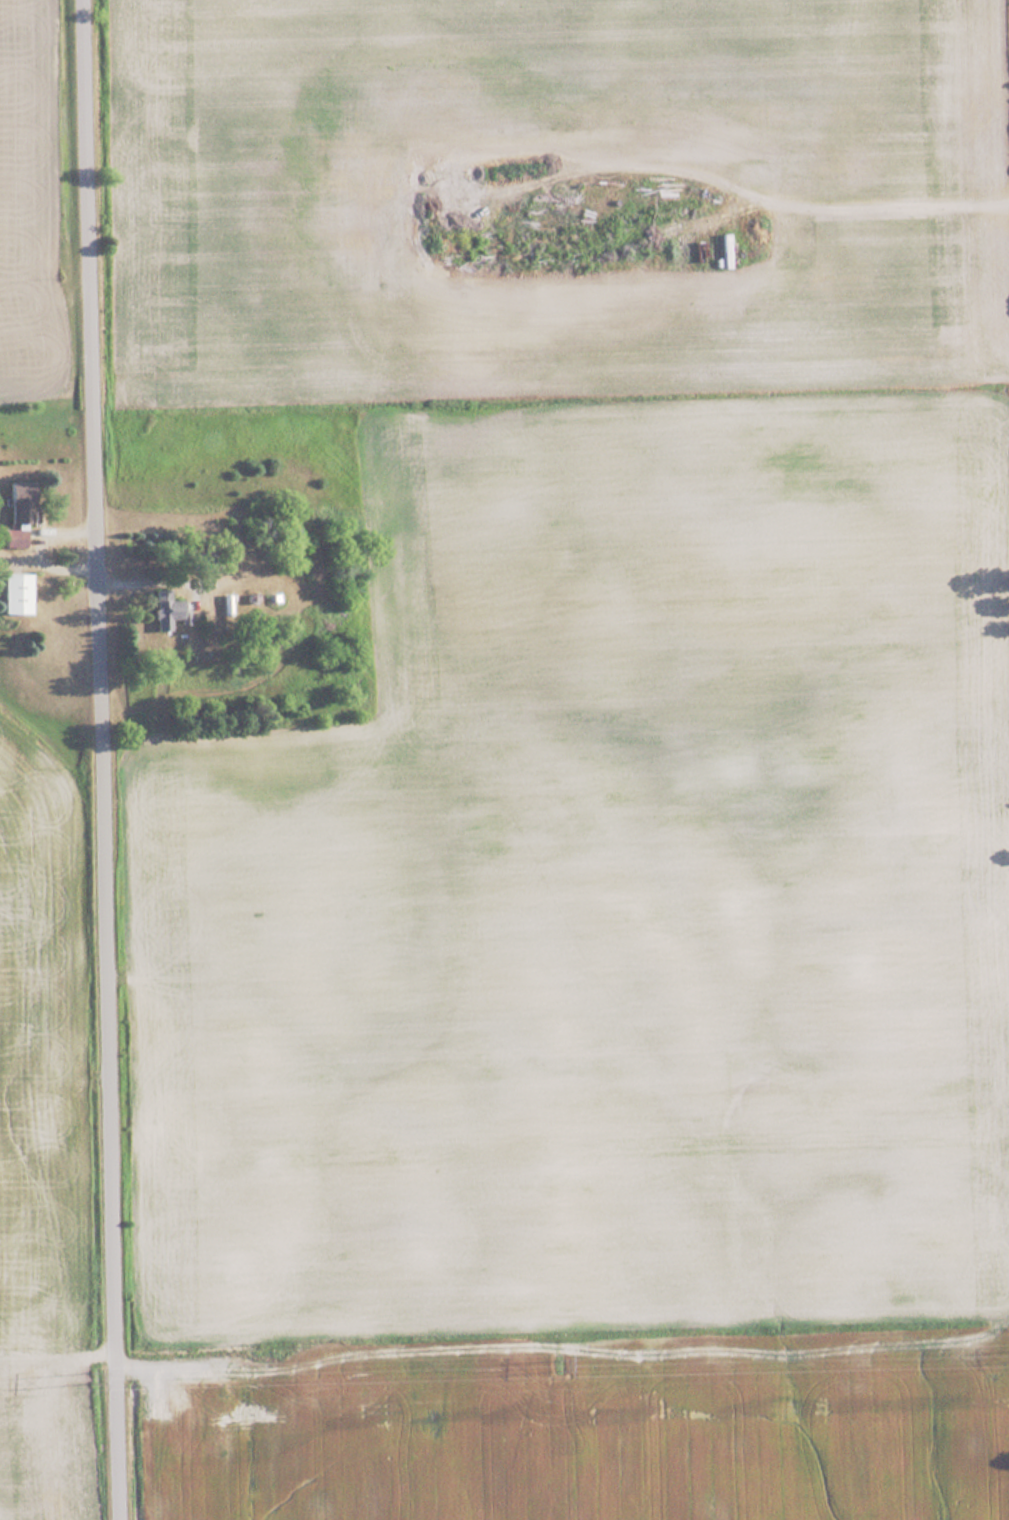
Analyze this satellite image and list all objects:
building: (15, 503)
building: (11, 538)
building: (12, 593)
building: (164, 608)
road: (100, 759)
power tower: (563, 1366)
power tower: (91, 1372)

